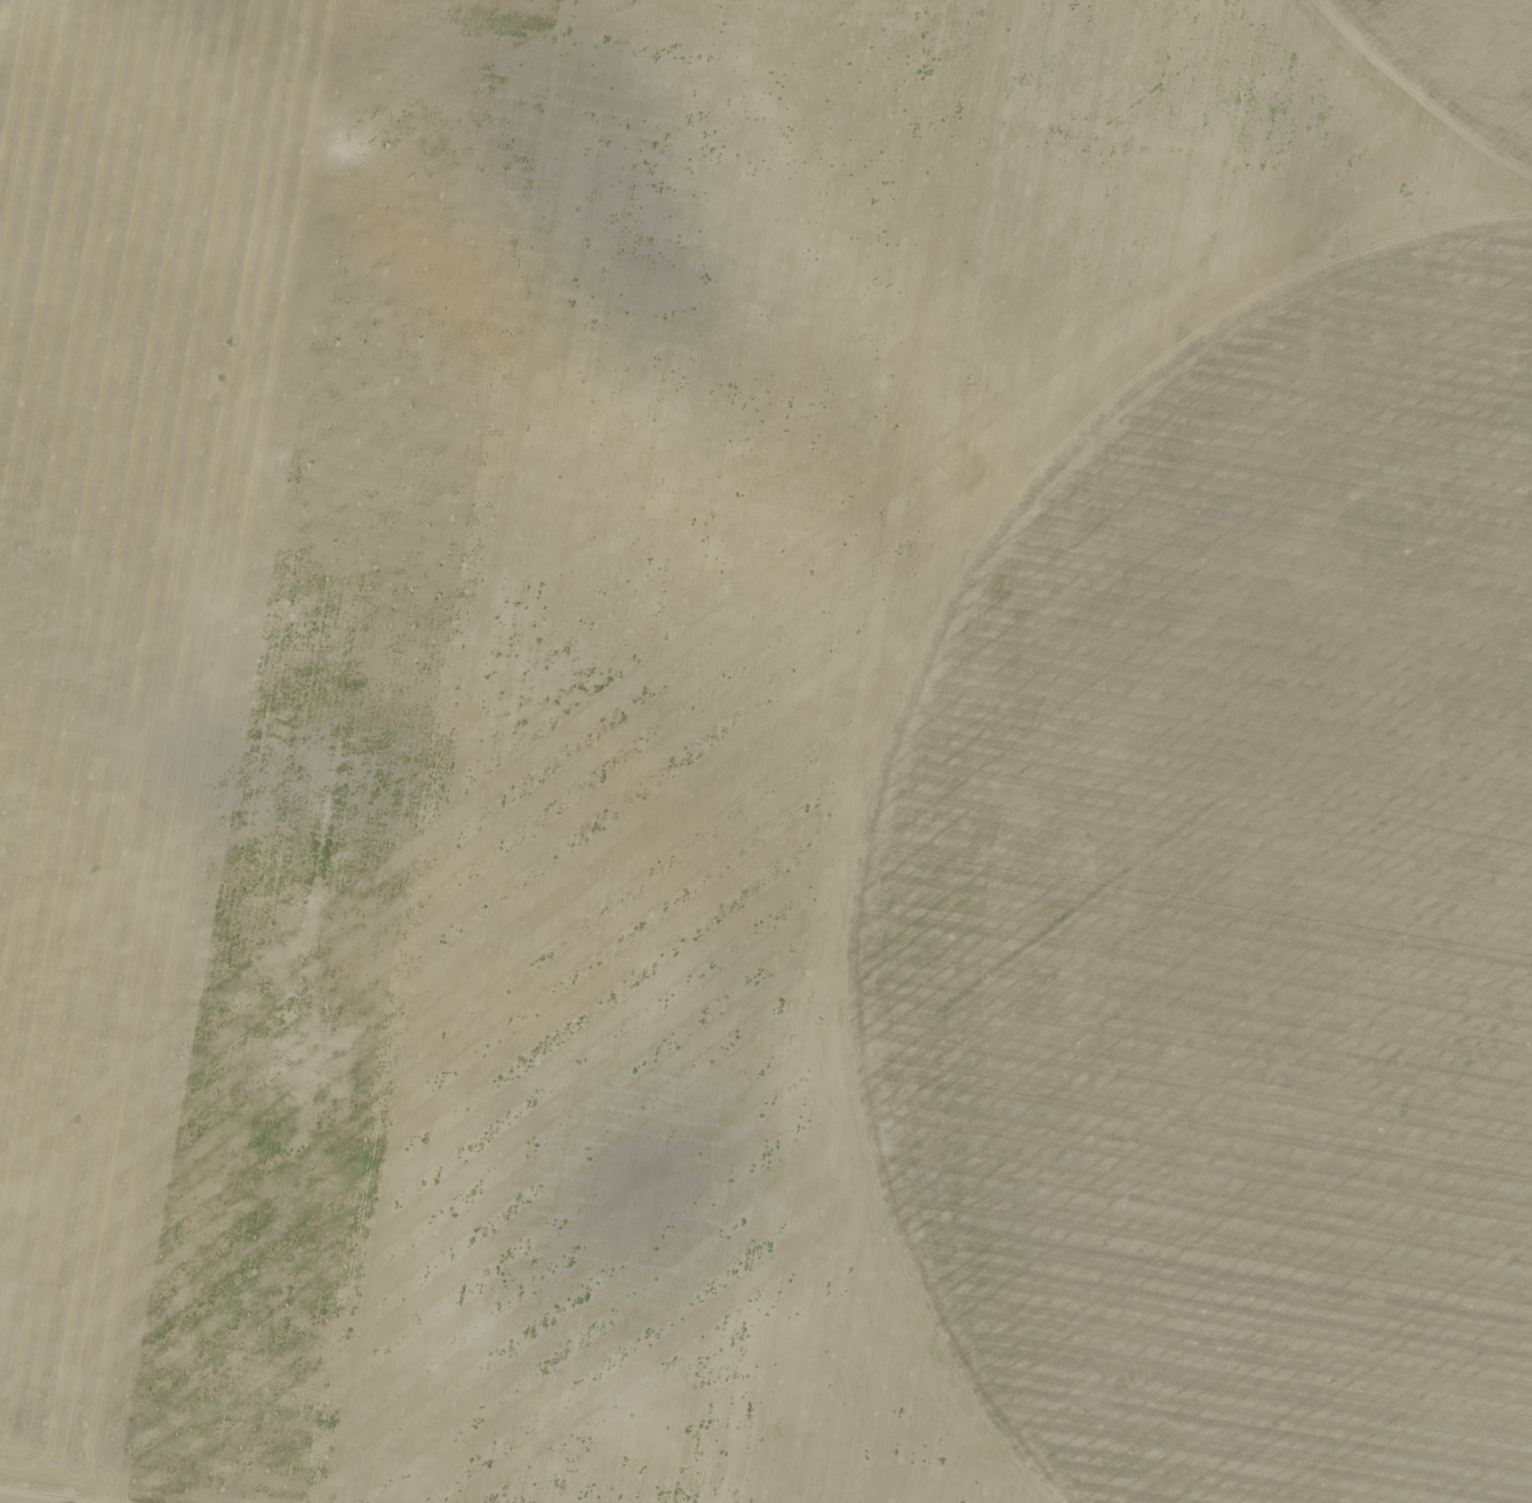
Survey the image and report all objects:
road: (17, 1500)

